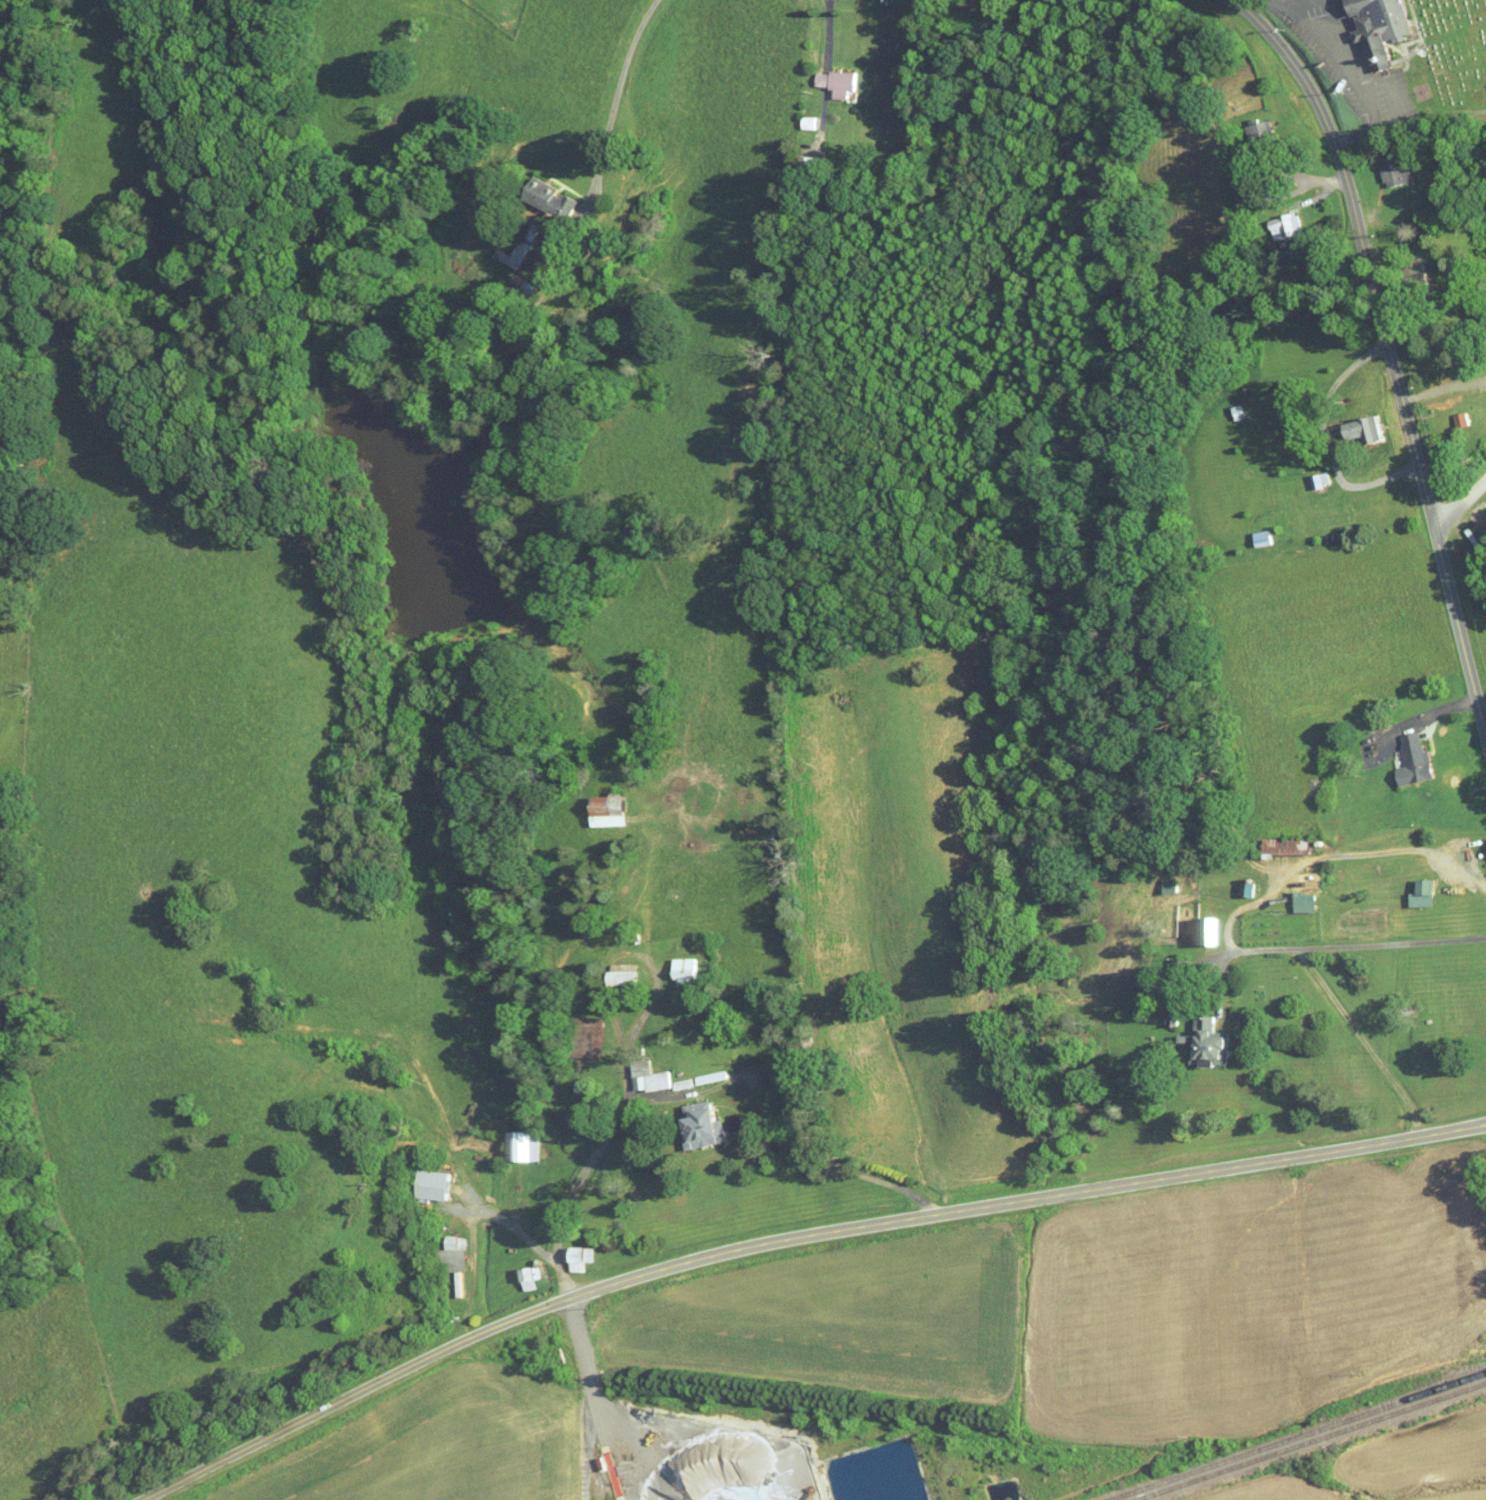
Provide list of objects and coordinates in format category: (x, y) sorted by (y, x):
road: (1295, 2)
park: (1449, 55)
road: (1338, 61)
building: (827, 76)
road: (620, 84)
building: (1243, 123)
road: (1262, 170)
building: (543, 192)
building: (1269, 221)
building: (505, 248)
road: (1389, 355)
road: (1427, 392)
building: (1343, 423)
road: (1326, 439)
road: (1459, 502)
building: (1398, 755)
building: (601, 803)
building: (1268, 840)
road: (1335, 855)
building: (1230, 883)
building: (1406, 888)
building: (1288, 896)
building: (1189, 925)
road: (1241, 949)
building: (676, 964)
road: (1307, 964)
building: (617, 971)
building: (1190, 1037)
building: (636, 1069)
road: (660, 1098)
building: (694, 1120)
building: (512, 1140)
road: (846, 1170)
road: (514, 1229)
road: (790, 1238)
building: (443, 1249)
building: (570, 1252)
building: (518, 1272)
road: (589, 1371)
railway: (1295, 1436)
railway: (1311, 1442)

